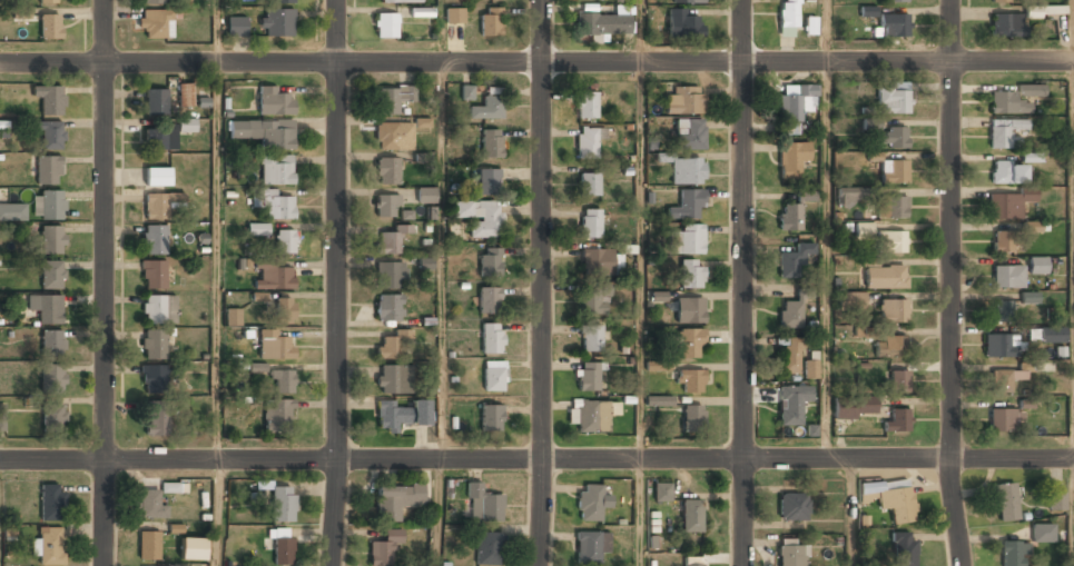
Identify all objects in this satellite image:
building: (284, 0)
building: (398, 0)
building: (997, 0)
building: (50, 1)
building: (152, 1)
building: (687, 1)
building: (895, 1)
building: (867, 11)
building: (1045, 11)
building: (454, 14)
building: (787, 17)
building: (276, 21)
building: (490, 21)
building: (155, 23)
building: (683, 23)
building: (386, 24)
building: (602, 24)
building: (1005, 24)
building: (236, 26)
building: (893, 26)
building: (50, 27)
road: (217, 31)
road: (639, 31)
road: (826, 31)
road: (536, 62)
building: (466, 92)
building: (185, 95)
building: (49, 98)
building: (392, 98)
building: (684, 99)
building: (893, 99)
building: (1014, 99)
building: (156, 101)
building: (274, 101)
building: (585, 105)
building: (486, 107)
building: (791, 109)
building: (422, 122)
building: (870, 123)
building: (1001, 132)
building: (265, 133)
building: (689, 133)
building: (50, 135)
building: (166, 135)
building: (386, 136)
building: (893, 138)
building: (491, 142)
building: (587, 142)
building: (874, 157)
building: (1031, 157)
building: (791, 158)
building: (276, 169)
building: (49, 170)
building: (387, 170)
building: (687, 170)
building: (893, 171)
building: (1006, 172)
building: (157, 177)
building: (487, 180)
building: (589, 185)
building: (426, 196)
building: (850, 196)
building: (159, 203)
building: (1007, 203)
building: (48, 205)
building: (687, 205)
building: (279, 206)
building: (386, 206)
building: (891, 207)
building: (12, 211)
building: (791, 214)
building: (479, 217)
building: (590, 220)
building: (1032, 227)
building: (257, 229)
building: (864, 230)
building: (690, 238)
building: (154, 239)
building: (51, 240)
building: (285, 240)
building: (388, 241)
building: (890, 241)
building: (1005, 241)
road: (218, 260)
road: (443, 260)
road: (827, 260)
building: (595, 261)
building: (792, 261)
building: (490, 262)
building: (1037, 265)
building: (152, 274)
building: (390, 274)
building: (690, 274)
building: (273, 275)
building: (51, 276)
building: (1007, 276)
building: (885, 277)
road: (102, 282)
road: (336, 282)
road: (541, 282)
road: (740, 282)
road: (949, 282)
building: (1029, 298)
building: (489, 299)
building: (593, 299)
building: (851, 300)
building: (388, 306)
building: (45, 308)
building: (156, 309)
building: (285, 310)
building: (689, 310)
building: (893, 310)
building: (1003, 311)
road: (640, 314)
building: (789, 315)
building: (233, 316)
building: (1052, 335)
building: (491, 336)
building: (591, 338)
building: (51, 342)
building: (392, 342)
building: (690, 342)
building: (275, 344)
building: (154, 345)
building: (998, 346)
building: (889, 347)
building: (789, 356)
building: (657, 366)
building: (257, 368)
building: (810, 369)
building: (493, 375)
building: (588, 377)
building: (1005, 377)
building: (154, 378)
building: (51, 379)
building: (392, 379)
building: (690, 379)
building: (283, 380)
building: (898, 380)
building: (659, 400)
building: (791, 405)
building: (855, 406)
building: (277, 415)
building: (401, 415)
building: (53, 416)
building: (491, 416)
building: (591, 416)
building: (692, 419)
building: (1003, 419)
building: (898, 420)
building: (157, 421)
road: (536, 459)
building: (150, 483)
building: (173, 488)
building: (662, 491)
building: (396, 500)
building: (889, 500)
building: (1056, 500)
building: (51, 502)
building: (589, 502)
building: (1005, 502)
building: (283, 504)
building: (483, 504)
building: (150, 505)
building: (792, 506)
road: (216, 513)
road: (435, 513)
road: (854, 513)
building: (690, 515)
building: (1042, 534)
building: (148, 545)
building: (50, 546)
building: (282, 547)
building: (384, 547)
building: (486, 547)
building: (588, 547)
building: (193, 548)
building: (904, 548)
building: (1013, 554)
building: (790, 555)
building: (693, 564)

